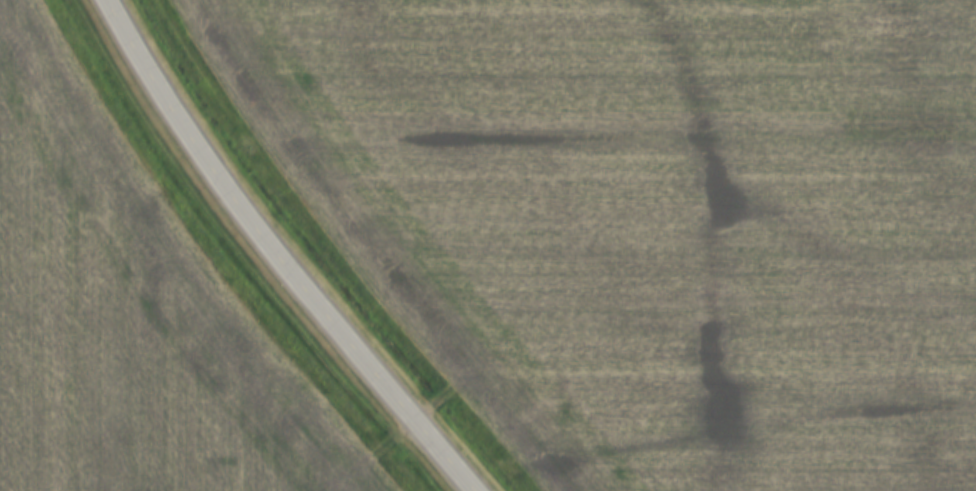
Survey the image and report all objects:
crop: (650, 220)
road: (276, 257)
crop: (133, 322)

